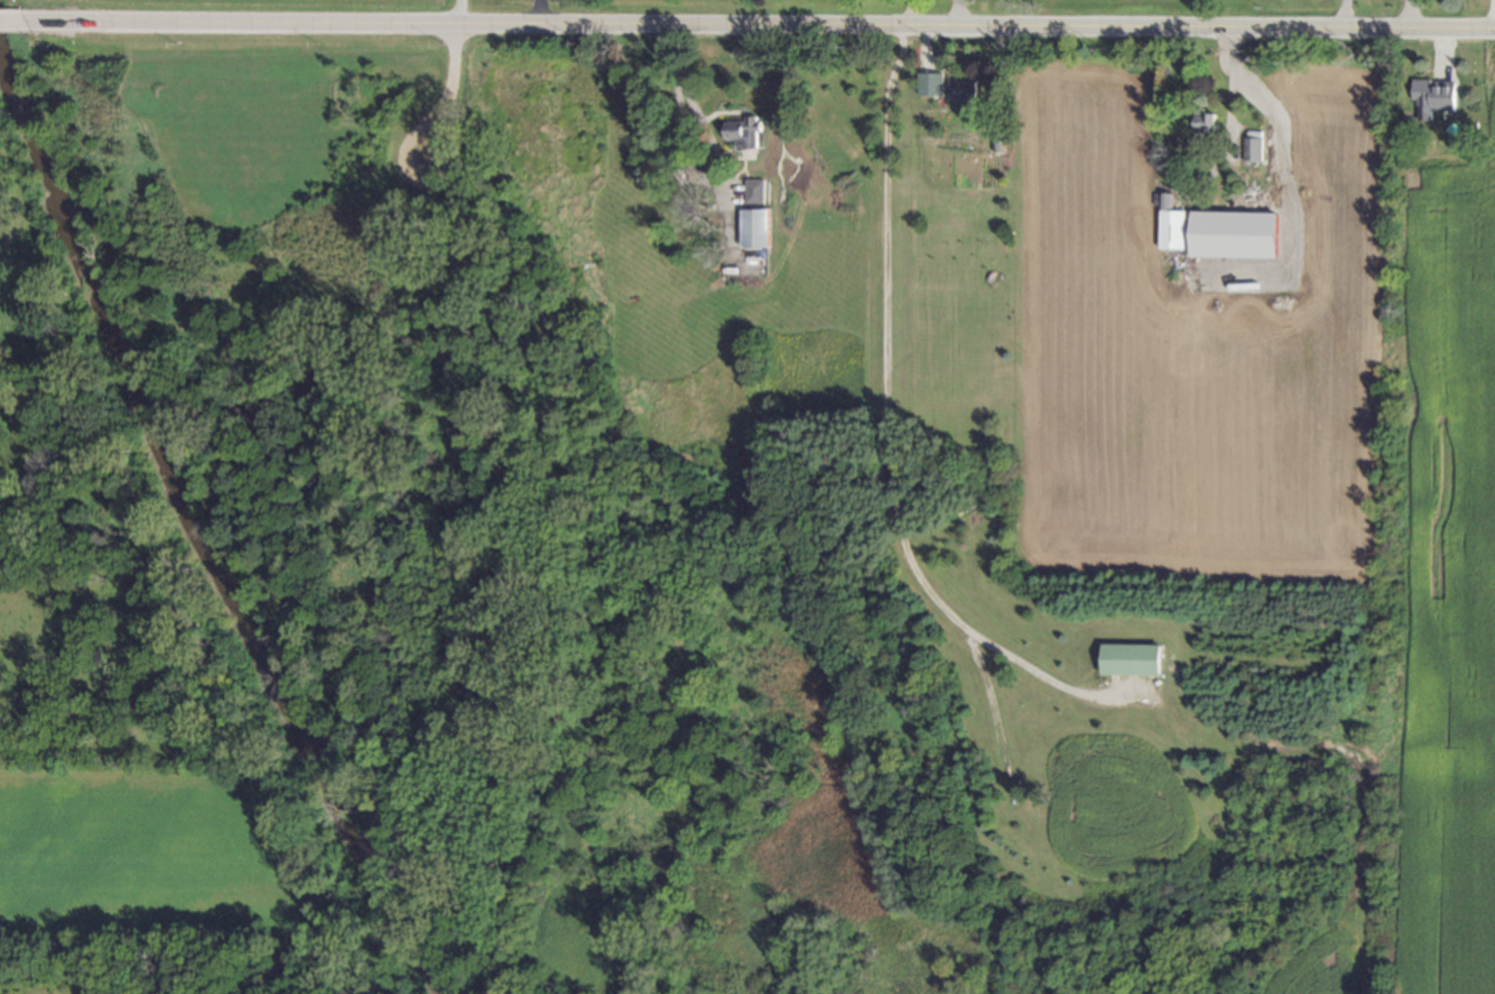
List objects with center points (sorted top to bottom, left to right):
crop: (368, 2)
road: (536, 14)
road: (1493, 17)
road: (9, 25)
road: (756, 30)
building: (931, 85)
building: (963, 91)
road: (680, 92)
building: (1434, 98)
building: (1206, 124)
building: (742, 133)
building: (1254, 150)
road: (1285, 188)
building: (755, 192)
building: (1173, 226)
building: (754, 229)
building: (1236, 235)
road: (888, 424)
crop: (1284, 438)
building: (1131, 660)

